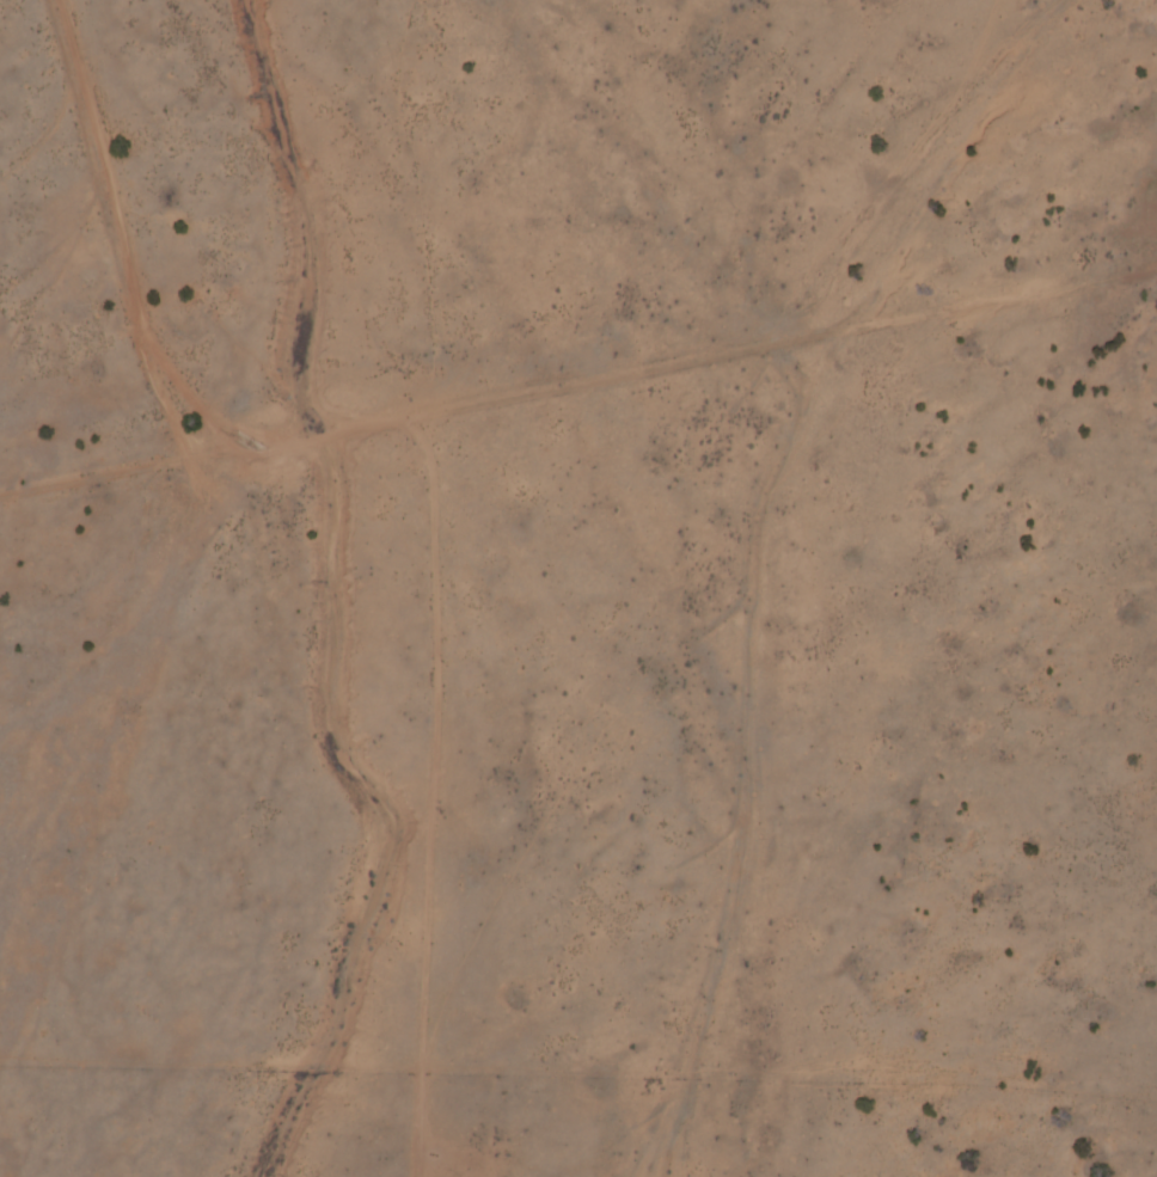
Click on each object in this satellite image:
road: (839, 565)

